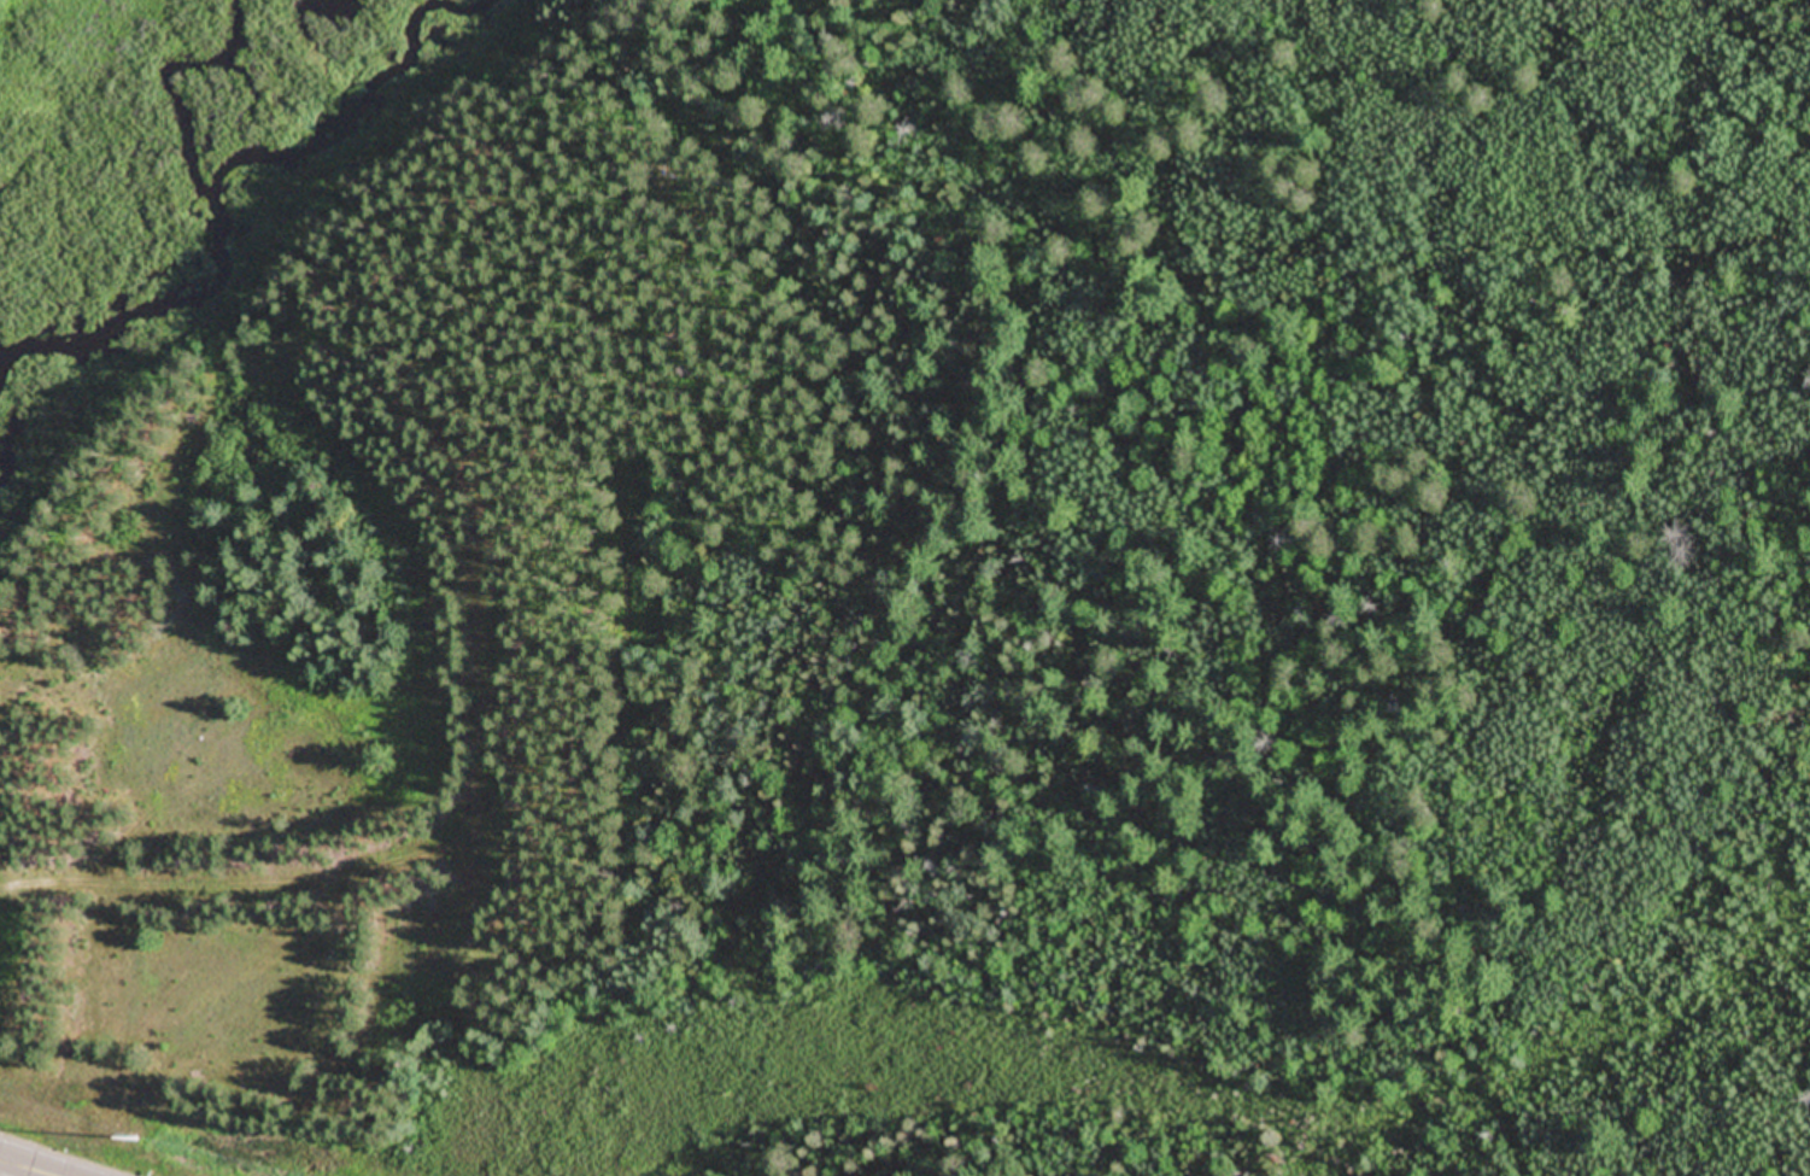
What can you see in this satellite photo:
road: (35, 1165)

